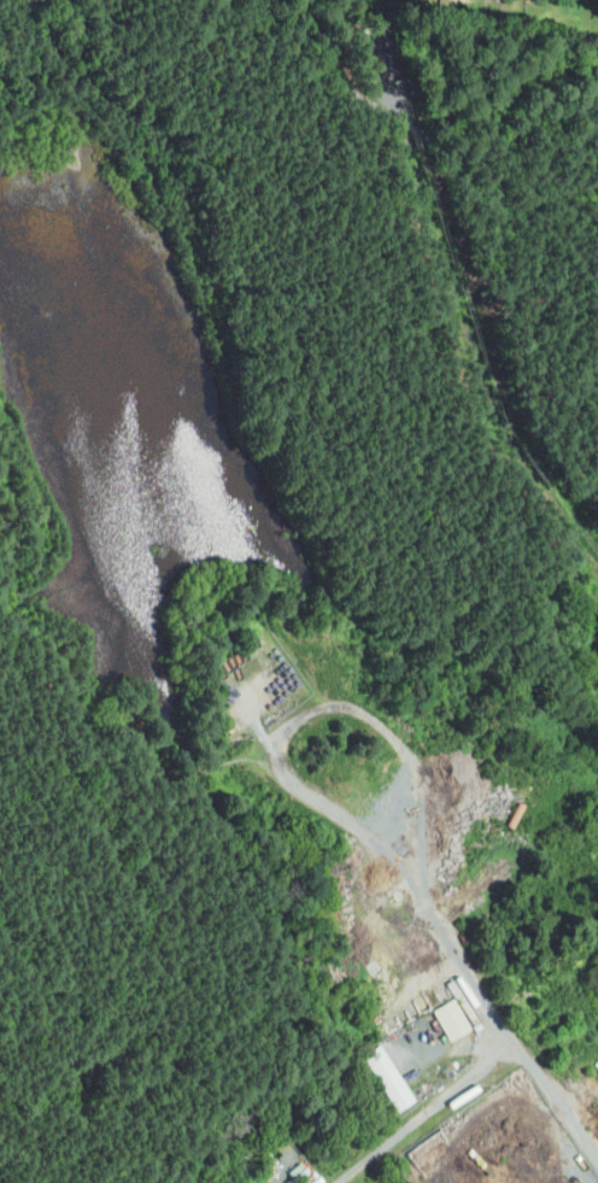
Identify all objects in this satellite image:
road: (340, 66)
road: (498, 203)
road: (309, 713)
road: (59, 733)
road: (228, 760)
road: (184, 774)
road: (158, 775)
road: (181, 954)
road: (500, 1008)
building: (451, 1018)
building: (388, 1077)
road: (436, 1113)

